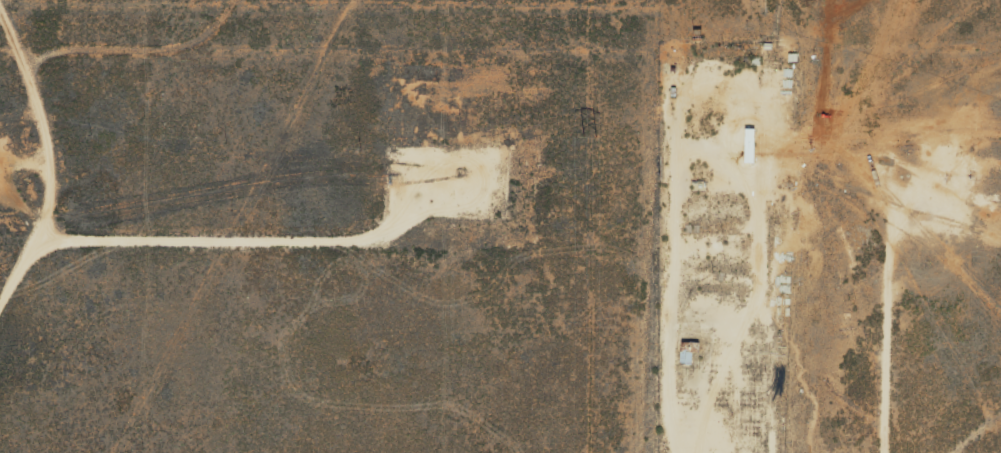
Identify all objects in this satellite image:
road: (141, 33)
road: (677, 89)
power tower: (592, 133)
road: (42, 149)

